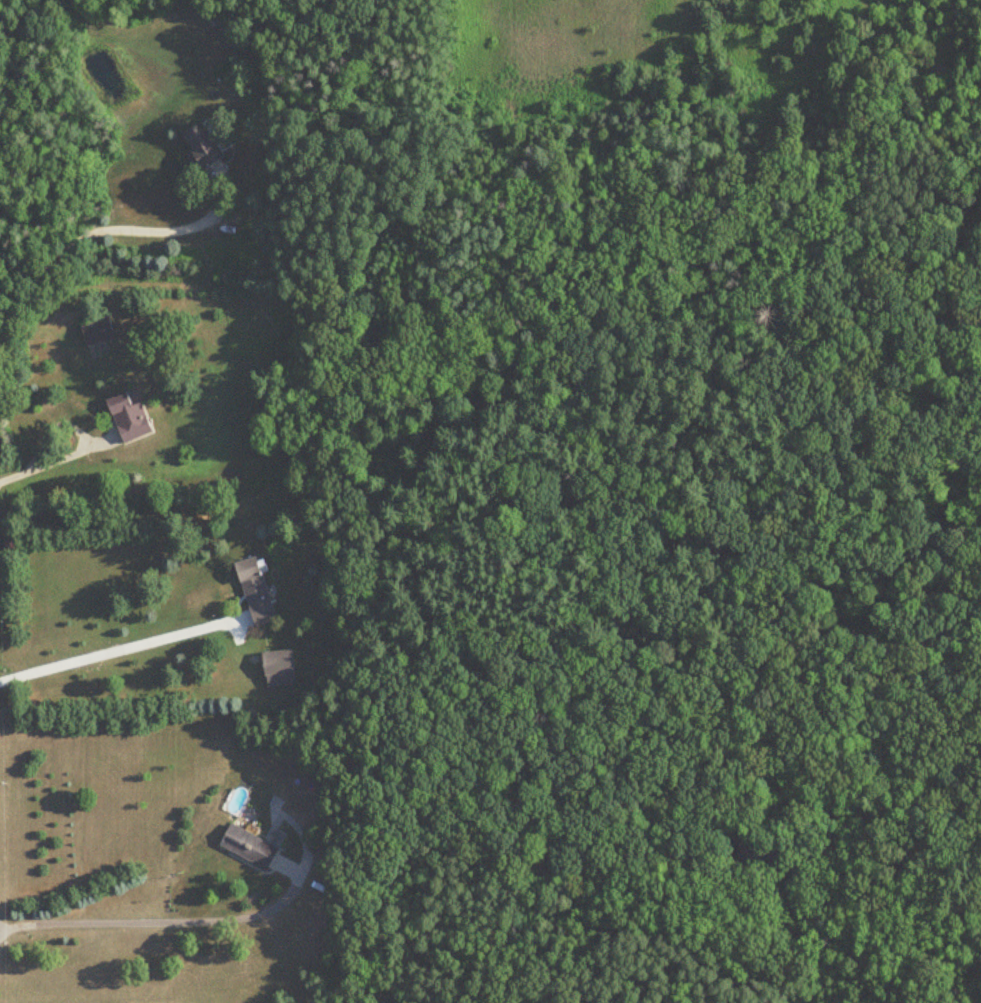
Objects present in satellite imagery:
building: (208, 145)
road: (116, 231)
building: (100, 332)
building: (131, 418)
road: (55, 459)
building: (258, 592)
road: (115, 651)
building: (281, 668)
building: (251, 847)
road: (159, 921)

